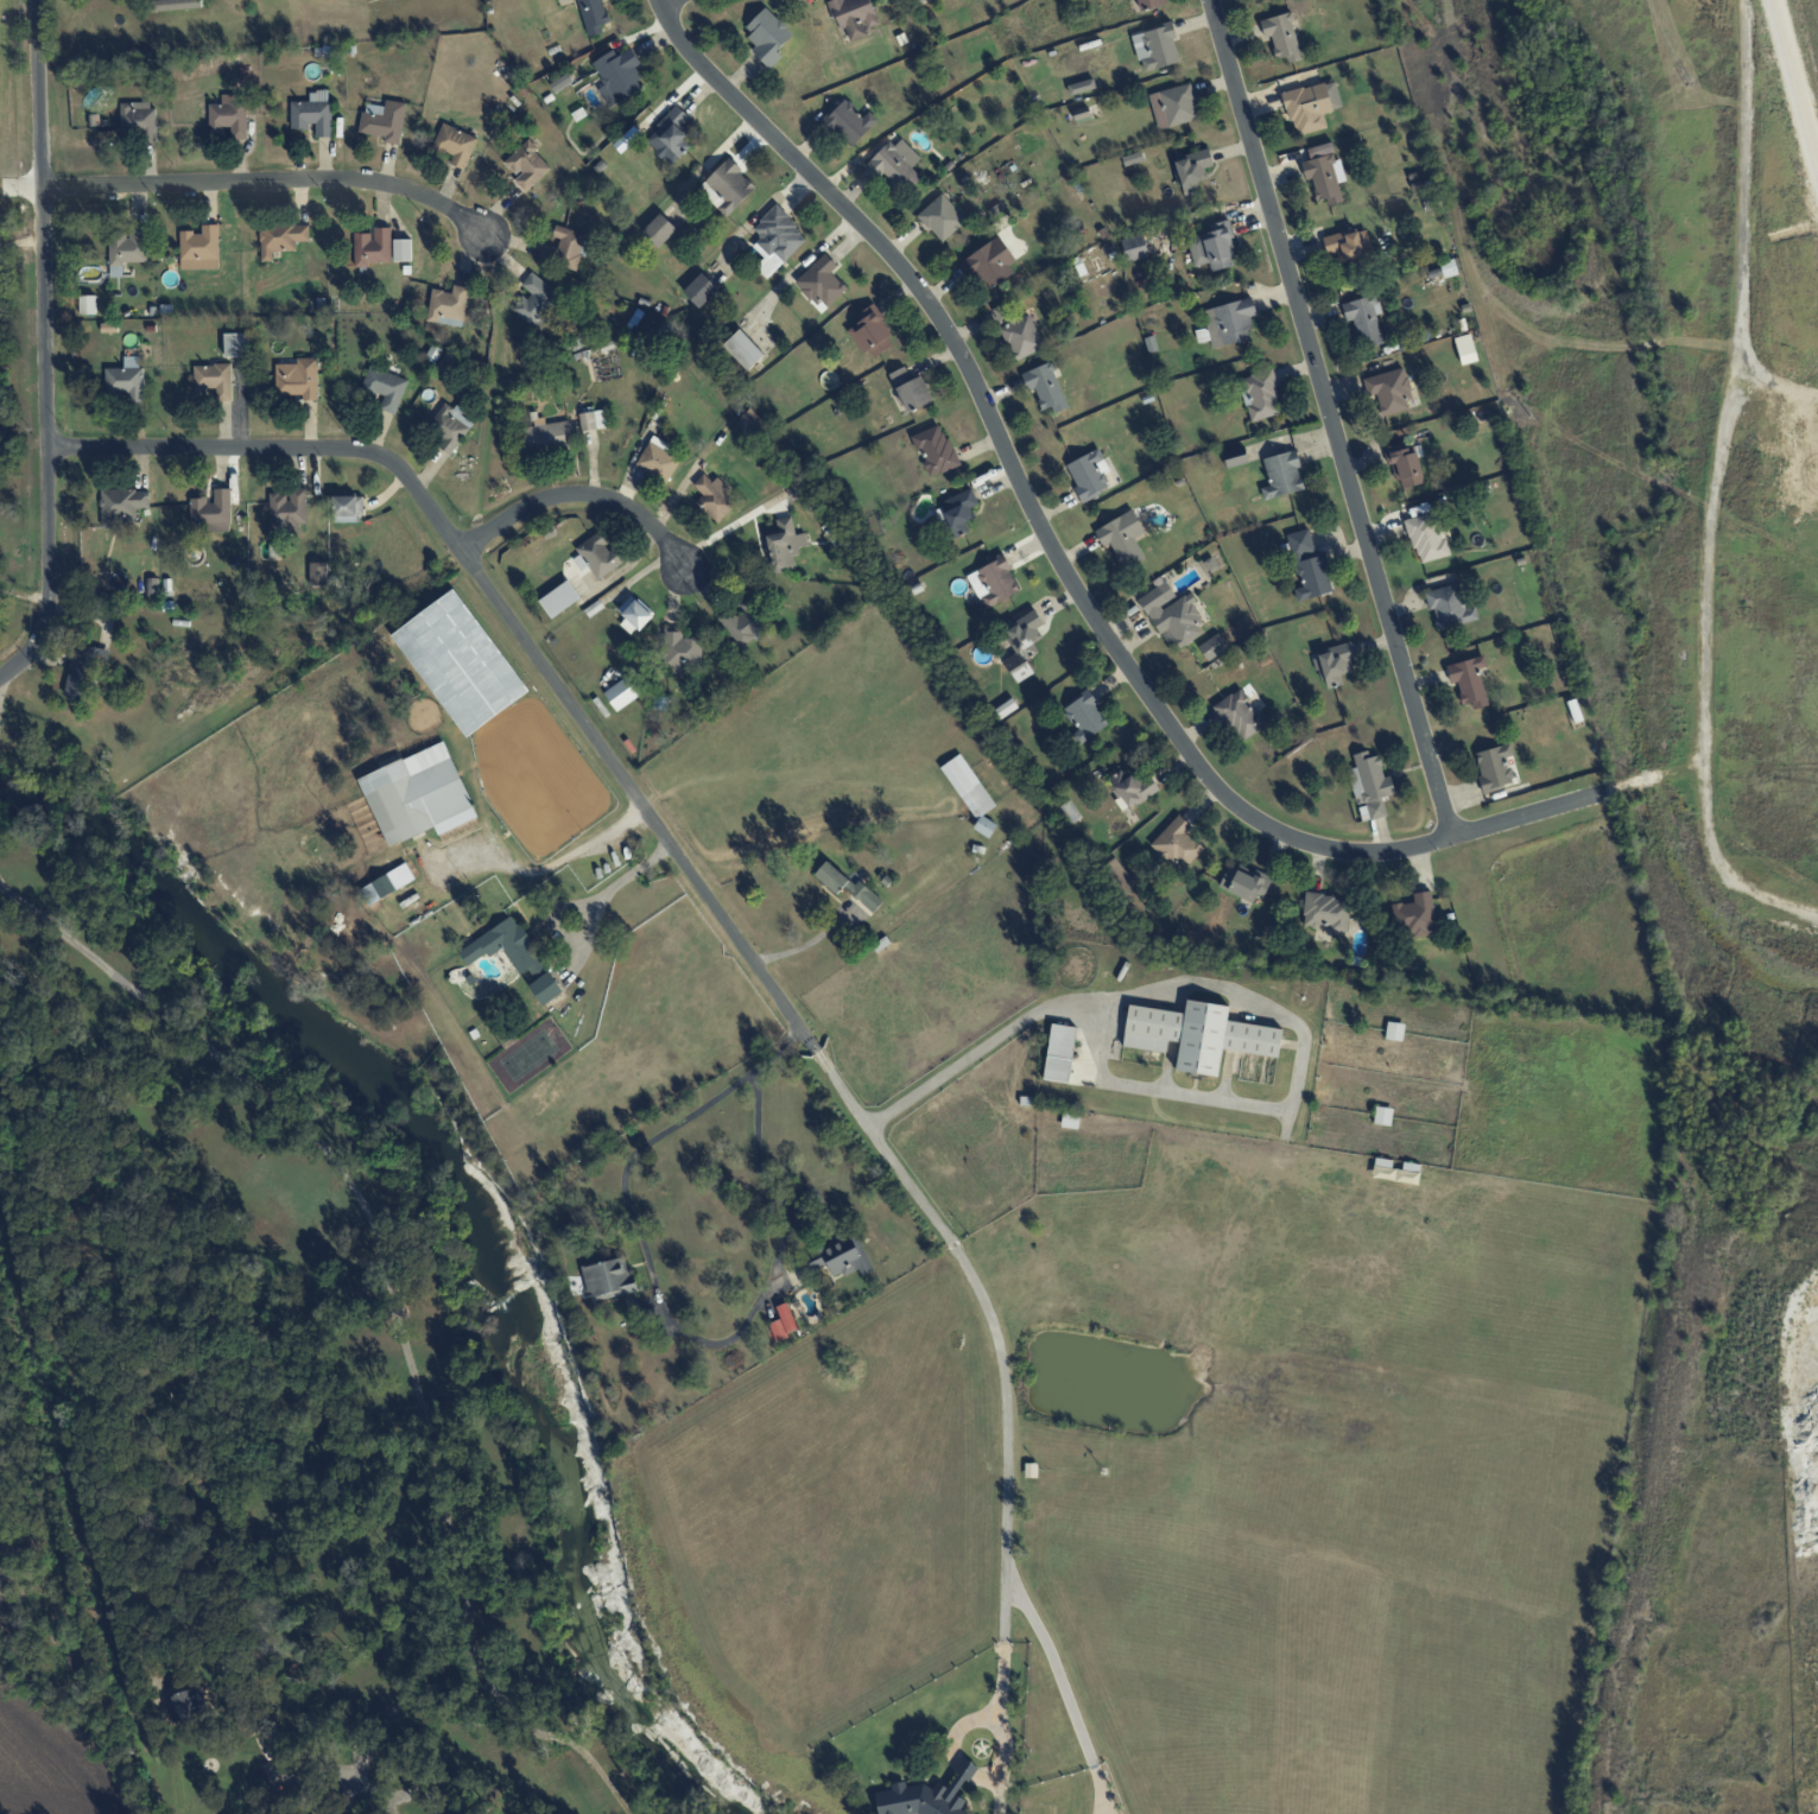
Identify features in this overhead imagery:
building: (919, 0)
road: (669, 4)
building: (1149, 4)
building: (593, 15)
building: (854, 18)
building: (1281, 36)
building: (767, 37)
building: (1155, 46)
building: (617, 76)
building: (560, 82)
road: (1794, 87)
building: (1173, 106)
building: (1311, 106)
building: (1081, 113)
building: (229, 115)
building: (312, 116)
building: (137, 119)
building: (384, 120)
building: (849, 121)
building: (670, 135)
building: (455, 144)
building: (1132, 158)
building: (897, 164)
building: (526, 165)
building: (1192, 170)
building: (1323, 173)
road: (267, 182)
building: (727, 188)
building: (942, 217)
building: (658, 230)
building: (280, 237)
building: (775, 240)
road: (21, 242)
building: (1348, 243)
building: (373, 246)
building: (1214, 246)
building: (565, 247)
building: (199, 248)
building: (1134, 248)
building: (126, 249)
building: (401, 249)
building: (988, 264)
building: (821, 281)
building: (699, 290)
building: (534, 299)
building: (87, 304)
building: (448, 305)
building: (1363, 319)
building: (1227, 323)
building: (870, 332)
building: (1021, 336)
building: (1149, 343)
building: (235, 344)
building: (1465, 348)
building: (743, 349)
road: (45, 350)
building: (297, 378)
building: (126, 379)
building: (213, 380)
building: (385, 386)
building: (1045, 387)
building: (911, 389)
building: (1388, 389)
building: (1260, 395)
building: (591, 419)
road: (1330, 419)
building: (750, 420)
building: (448, 426)
building: (545, 437)
building: (935, 449)
building: (1234, 456)
building: (657, 458)
building: (1406, 464)
building: (1089, 474)
building: (1281, 475)
road: (577, 496)
building: (711, 497)
building: (122, 506)
building: (347, 508)
building: (213, 510)
building: (958, 510)
building: (1425, 537)
building: (1122, 538)
building: (784, 543)
building: (598, 554)
road: (1059, 562)
building: (1309, 566)
building: (317, 573)
building: (993, 582)
building: (152, 586)
building: (559, 598)
building: (1449, 607)
building: (635, 611)
building: (1172, 613)
building: (740, 626)
building: (1022, 645)
building: (1211, 646)
building: (680, 651)
building: (460, 662)
building: (1336, 664)
building: (83, 667)
building: (1468, 680)
building: (621, 693)
building: (1005, 709)
building: (1240, 715)
building: (1084, 717)
building: (1494, 767)
building: (1369, 785)
building: (1133, 788)
building: (970, 792)
building: (418, 794)
building: (1177, 843)
road: (546, 865)
building: (1243, 882)
building: (387, 883)
building: (845, 887)
road: (704, 892)
road: (601, 896)
building: (1325, 913)
building: (1414, 915)
road: (809, 941)
building: (513, 956)
road: (1246, 997)
building: (1394, 1030)
building: (1197, 1034)
building: (1058, 1053)
building: (1382, 1115)
building: (1070, 1120)
building: (1395, 1171)
road: (379, 1222)
building: (841, 1257)
building: (608, 1279)
road: (666, 1311)
building: (783, 1323)
road: (1065, 1691)
building: (189, 1705)
crop: (14, 1719)
road: (537, 1727)
road: (337, 1775)
road: (374, 1793)
road: (423, 1795)
building: (926, 1795)
road: (392, 1809)
building: (325, 1813)

